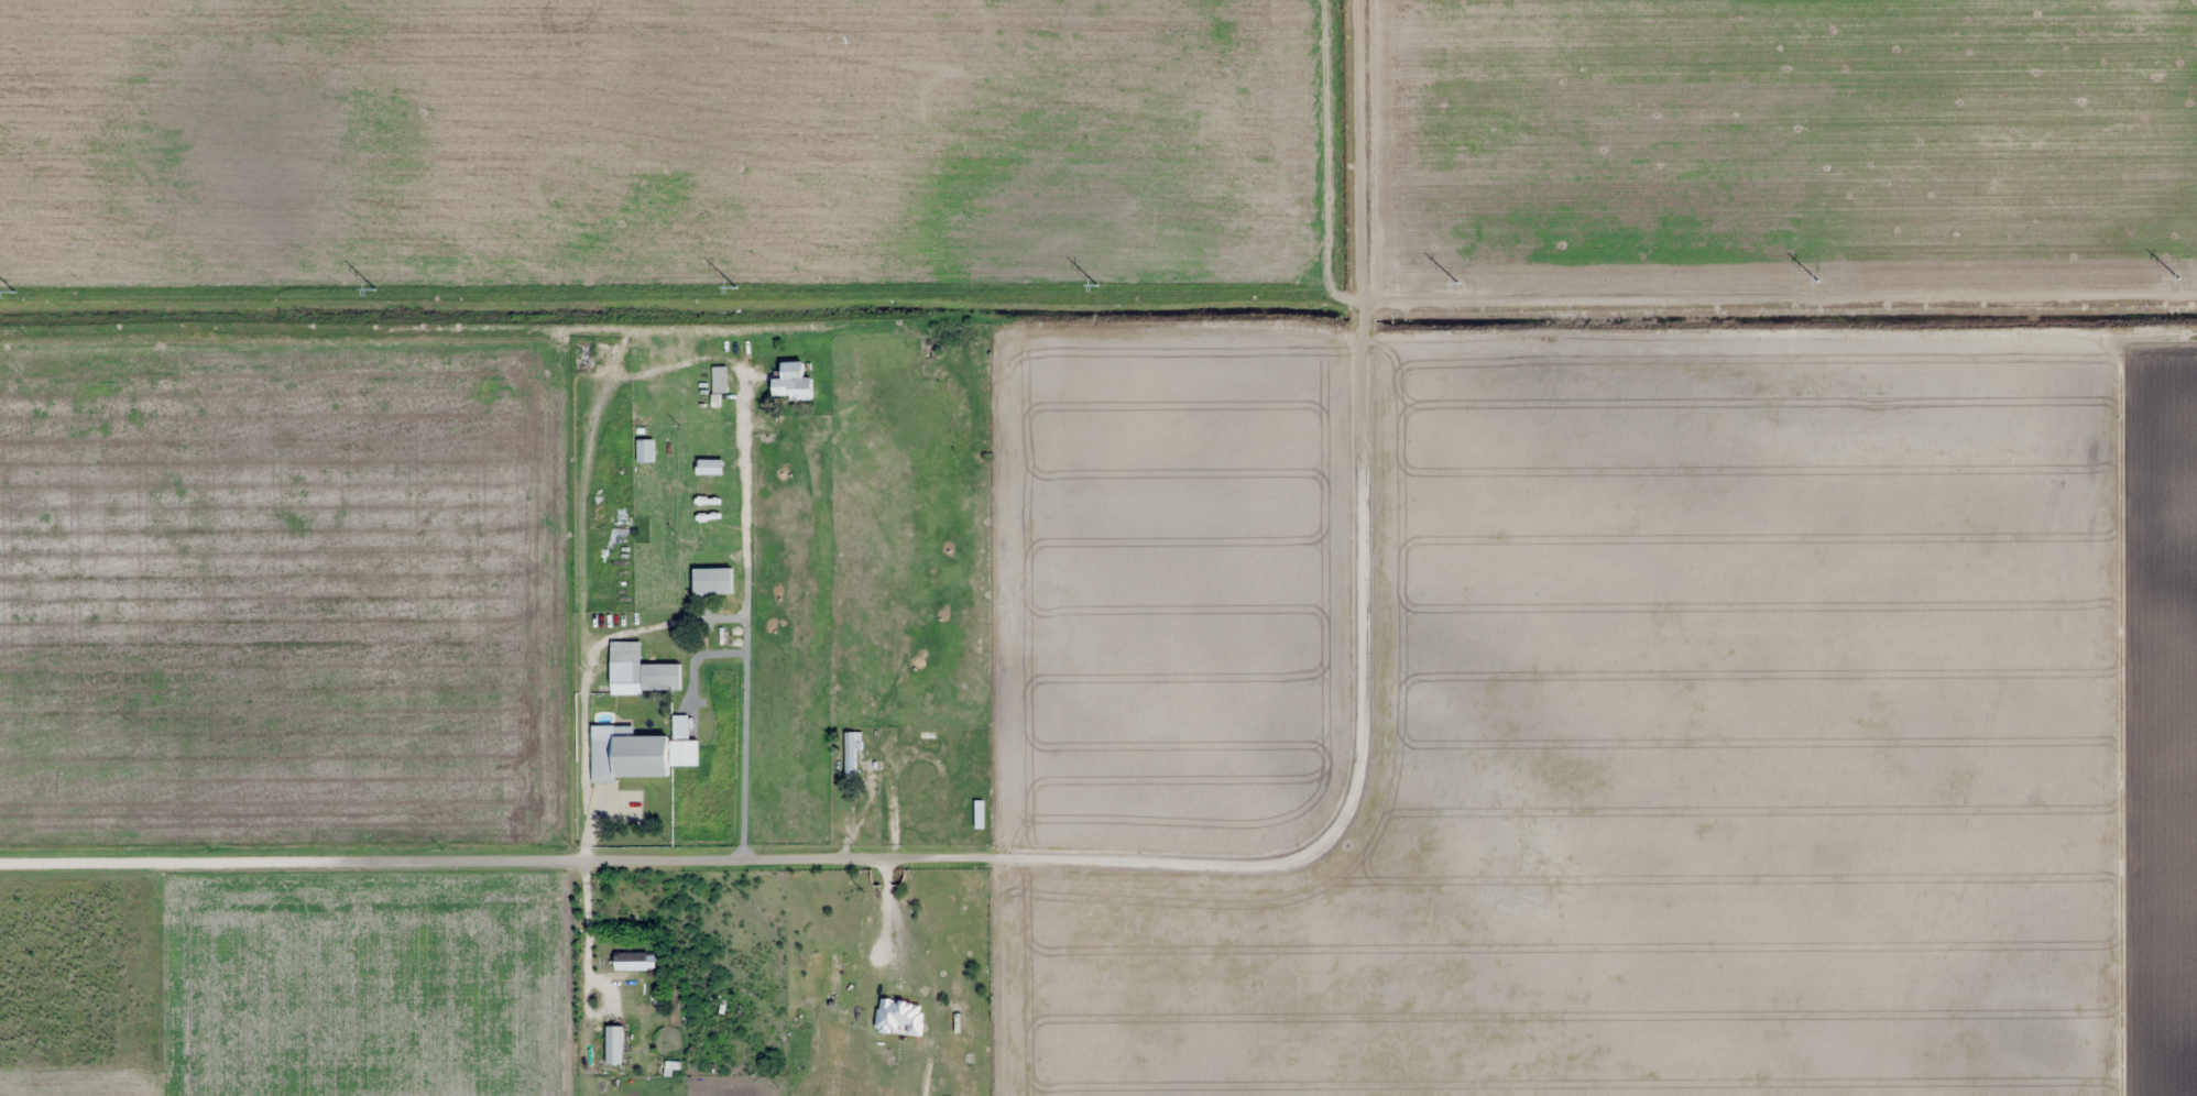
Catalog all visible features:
road: (2166, 150)
road: (1338, 154)
power tower: (2184, 286)
power tower: (1823, 289)
power tower: (1463, 292)
power tower: (742, 293)
power tower: (1102, 293)
power tower: (21, 294)
power tower: (381, 294)
road: (1768, 303)
building: (720, 379)
building: (793, 381)
building: (645, 449)
building: (712, 580)
road: (3, 588)
building: (640, 671)
road: (2098, 698)
building: (629, 754)
building: (850, 756)
building: (979, 813)
road: (907, 839)
building: (631, 961)
road: (972, 967)
building: (833, 975)

